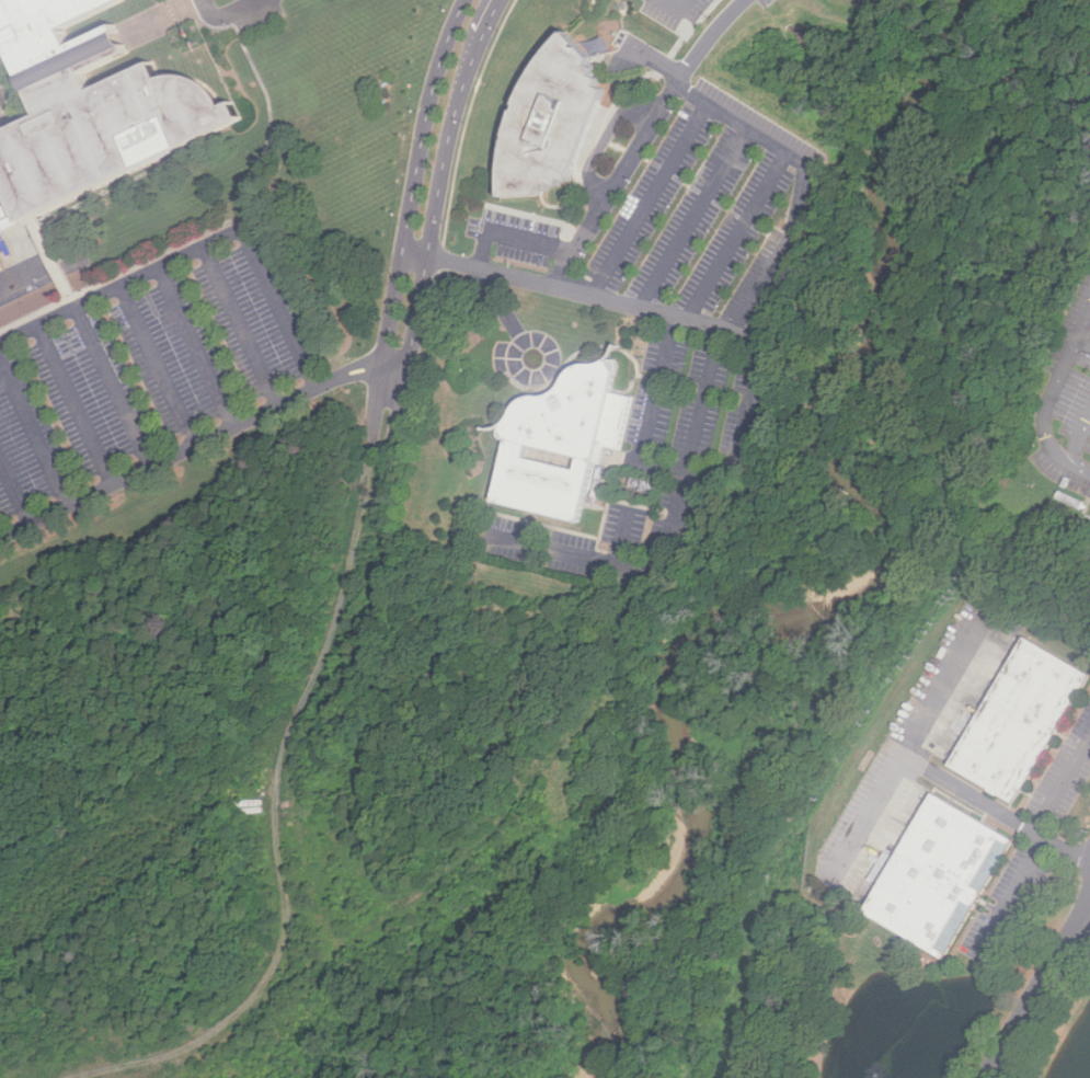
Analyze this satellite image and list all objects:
parking lot: (775, 1)
road: (684, 7)
road: (232, 13)
parking lot: (688, 13)
road: (157, 21)
road: (215, 25)
river: (941, 68)
road: (16, 88)
road: (15, 99)
building: (87, 112)
building: (548, 122)
road: (274, 126)
road: (646, 141)
road: (808, 187)
road: (655, 198)
road: (699, 216)
road: (406, 218)
road: (435, 219)
road: (743, 234)
road: (538, 240)
road: (198, 250)
road: (53, 257)
road: (127, 272)
road: (42, 278)
road: (504, 308)
parking lot: (685, 309)
road: (241, 326)
road: (196, 348)
road: (711, 364)
road: (1065, 365)
road: (159, 366)
road: (515, 367)
parking lot: (149, 372)
road: (114, 387)
road: (76, 405)
parking lot: (1070, 415)
road: (1077, 431)
road: (35, 433)
road: (1049, 438)
building: (560, 443)
road: (202, 444)
road: (370, 449)
road: (386, 458)
road: (1077, 465)
road: (690, 470)
road: (16, 490)
road: (628, 536)
river: (788, 616)
road: (943, 693)
building: (1028, 715)
road: (939, 775)
road: (1062, 781)
road: (276, 825)
building: (951, 868)
road: (1011, 894)
road: (1089, 911)
road: (1039, 993)
fountain: (877, 1074)

